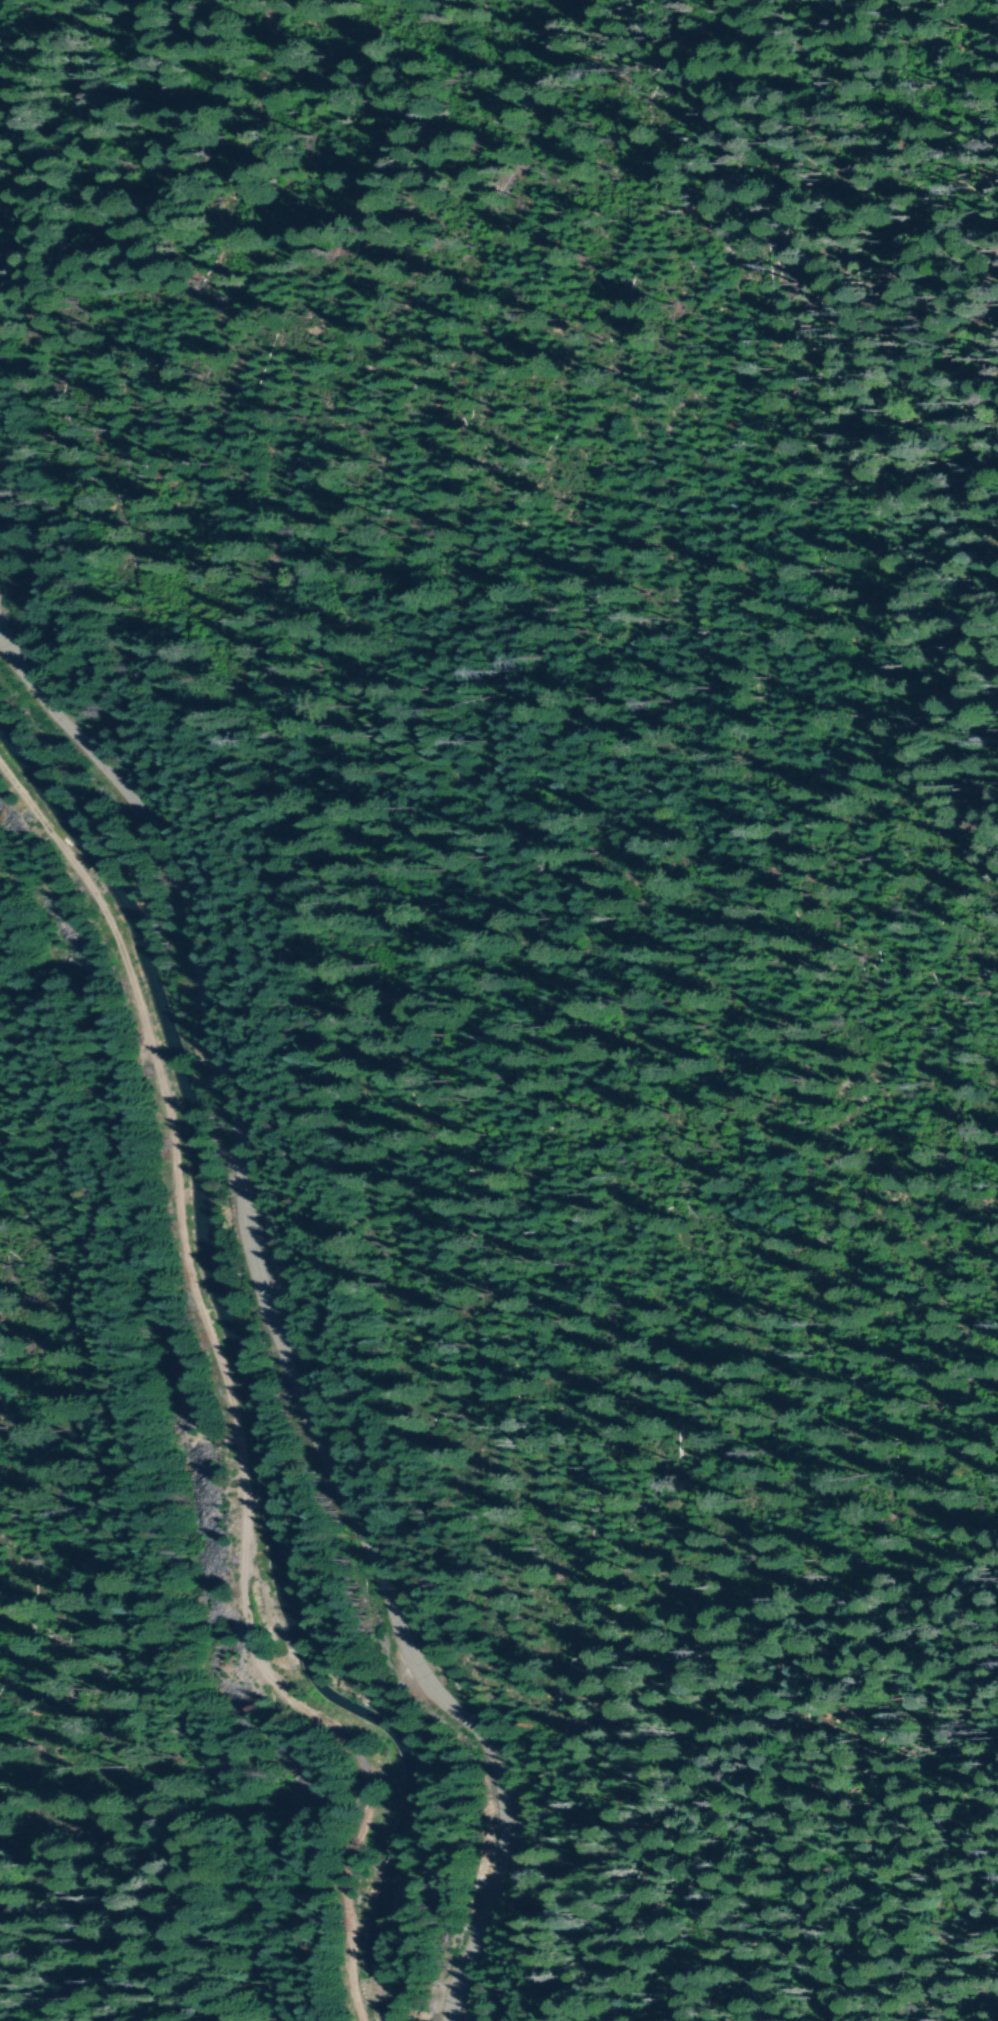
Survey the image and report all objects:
road: (272, 1327)
road: (231, 1399)
road: (381, 1988)

